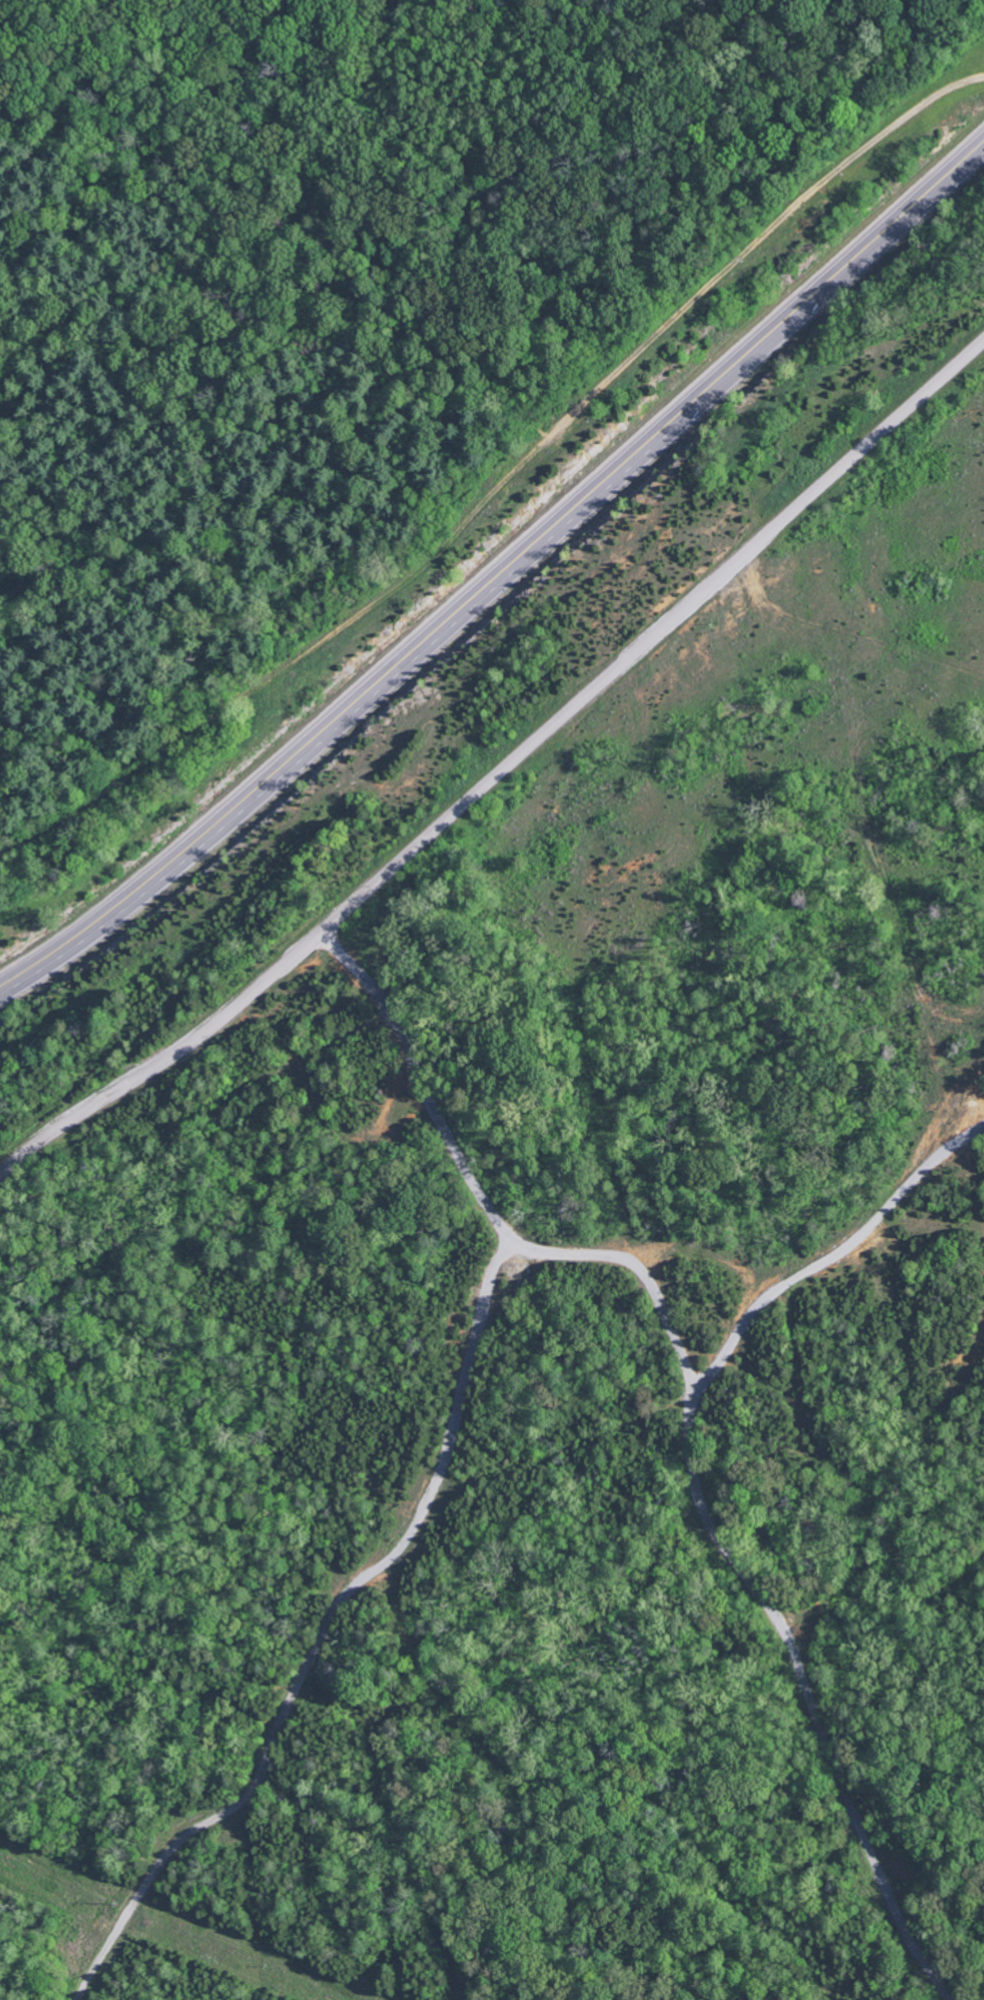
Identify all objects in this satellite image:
road: (499, 571)
road: (502, 771)

